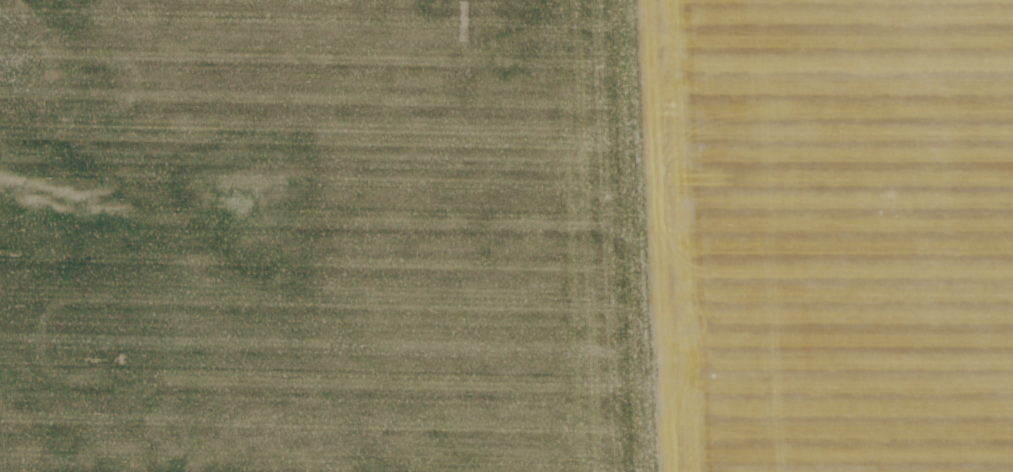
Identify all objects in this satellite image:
crop: (506, 236)

